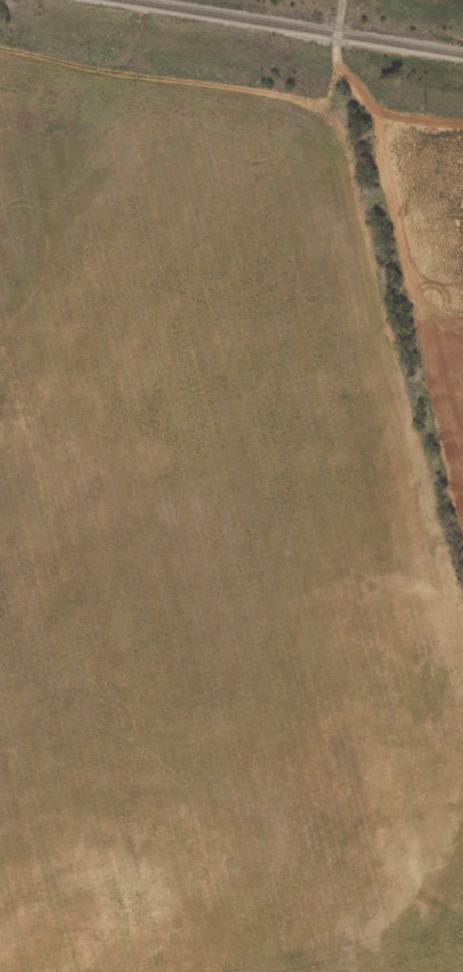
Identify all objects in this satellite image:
railway: (294, 27)

